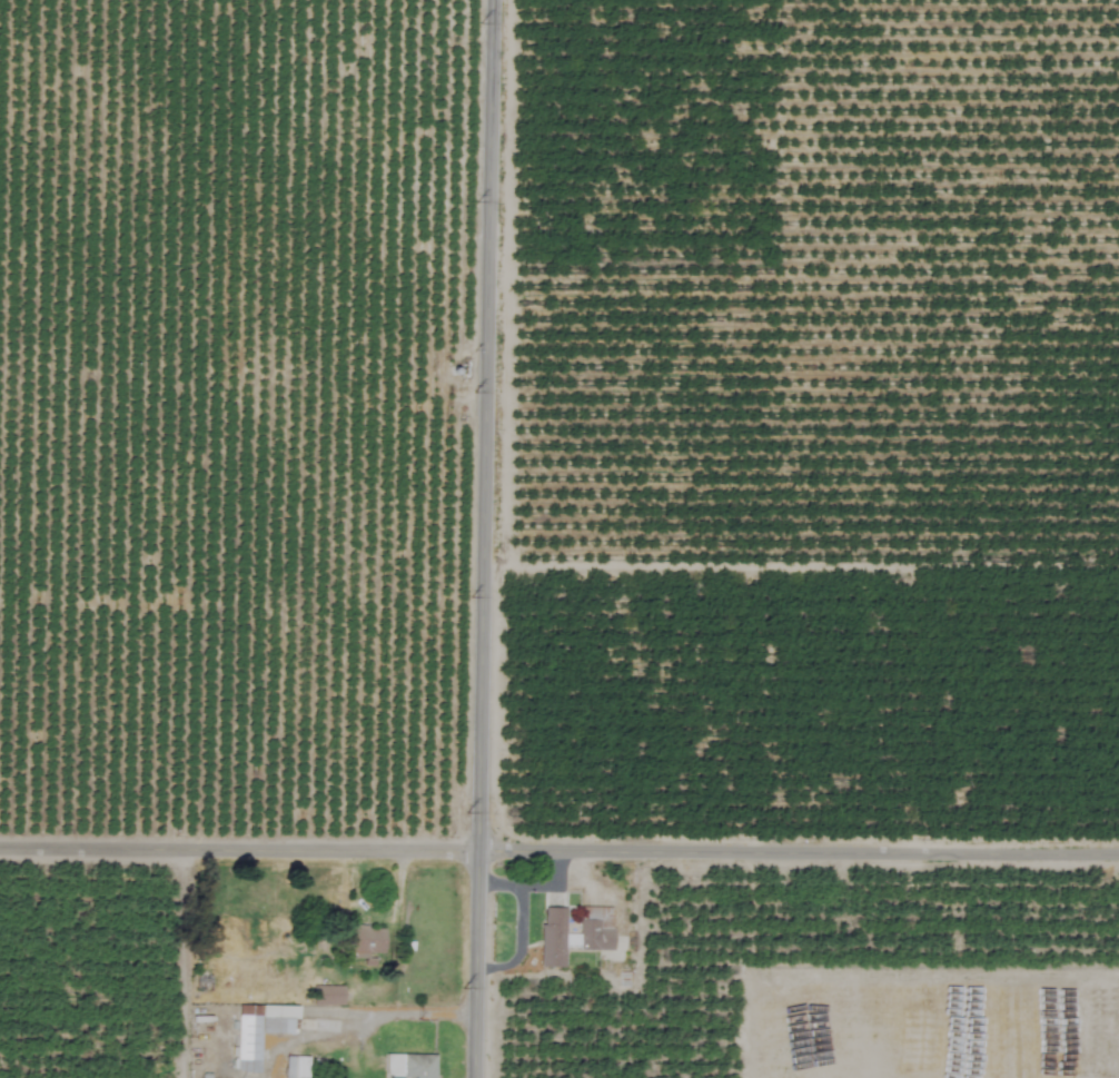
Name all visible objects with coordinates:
crop: (574, 505)
road: (479, 538)
road: (558, 849)
building: (575, 939)
building: (365, 941)
building: (326, 995)
road: (397, 1013)
building: (258, 1031)
building: (409, 1066)
building: (294, 1067)

